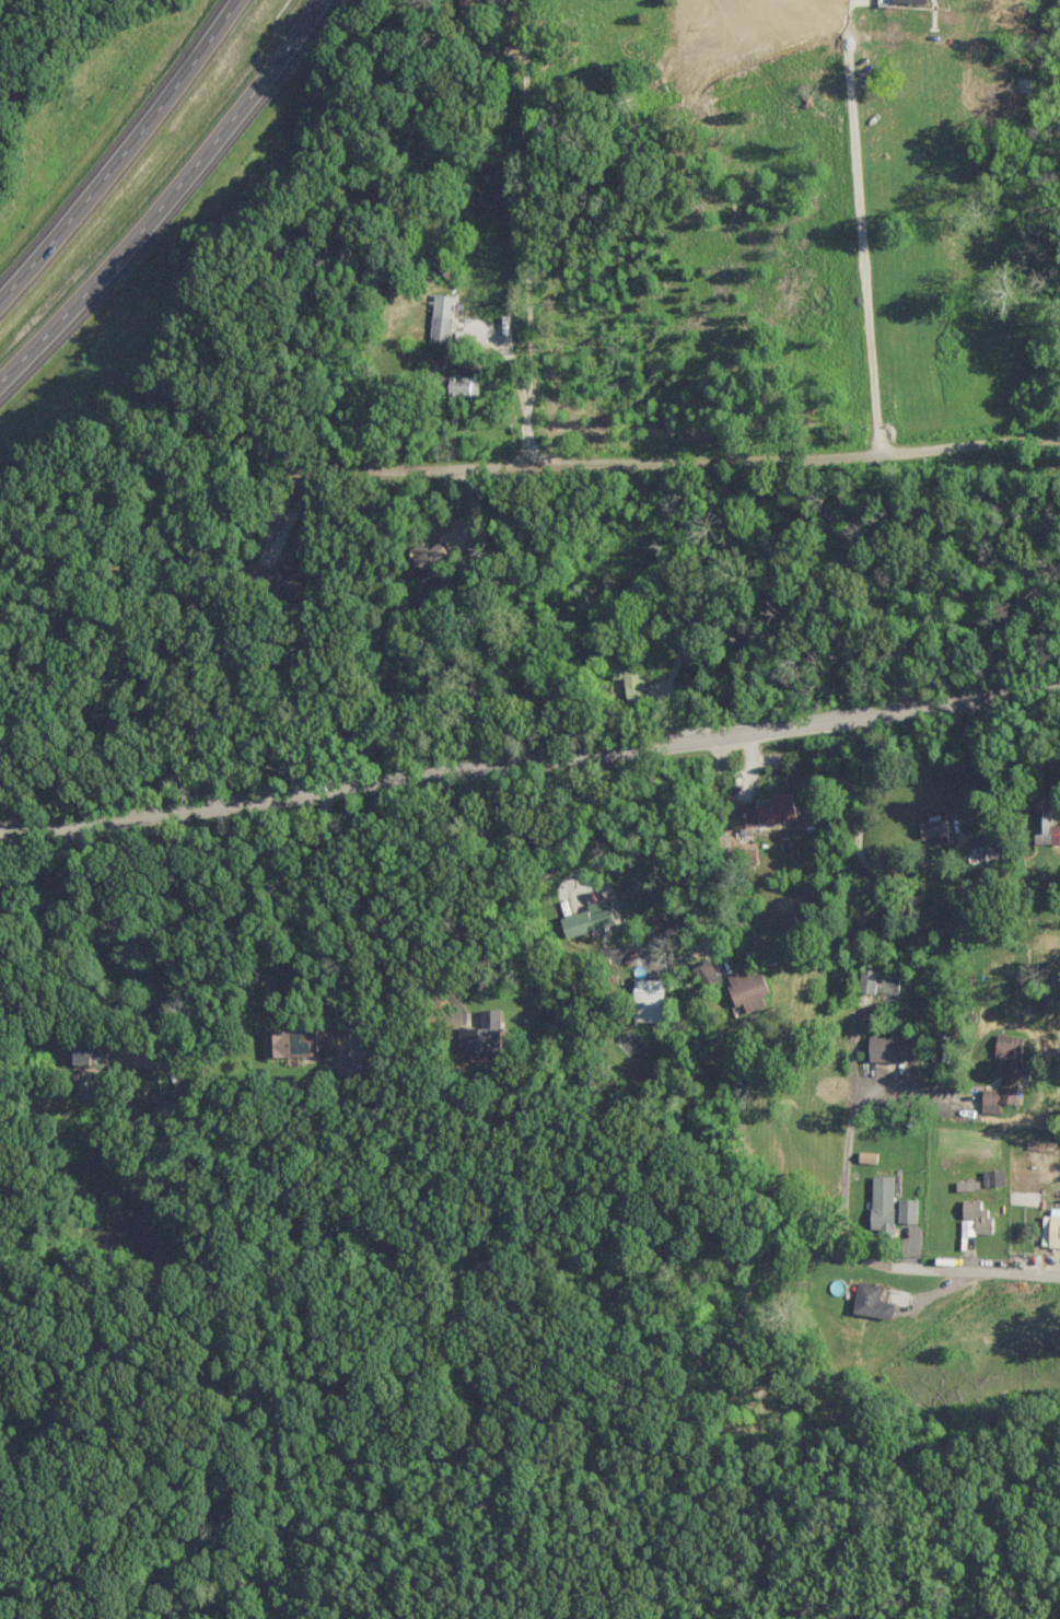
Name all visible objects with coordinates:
building: (906, 0)
road: (119, 151)
road: (171, 202)
road: (855, 225)
road: (531, 255)
building: (439, 318)
building: (456, 385)
road: (523, 387)
road: (967, 449)
road: (585, 463)
building: (427, 554)
building: (281, 580)
road: (921, 610)
building: (629, 676)
road: (1010, 692)
road: (673, 697)
road: (480, 768)
building: (760, 811)
road: (587, 822)
road: (861, 828)
building: (1042, 829)
building: (988, 851)
road: (61, 884)
road: (468, 907)
road: (729, 908)
building: (584, 918)
road: (321, 927)
building: (702, 974)
road: (139, 981)
building: (876, 981)
building: (743, 989)
building: (644, 1000)
building: (485, 1029)
building: (291, 1043)
building: (882, 1048)
building: (73, 1052)
building: (1002, 1073)
road: (907, 1091)
building: (161, 1103)
building: (863, 1157)
building: (990, 1178)
road: (842, 1185)
building: (964, 1186)
building: (878, 1204)
building: (904, 1210)
building: (971, 1218)
building: (1049, 1228)
road: (1005, 1272)
building: (867, 1301)

